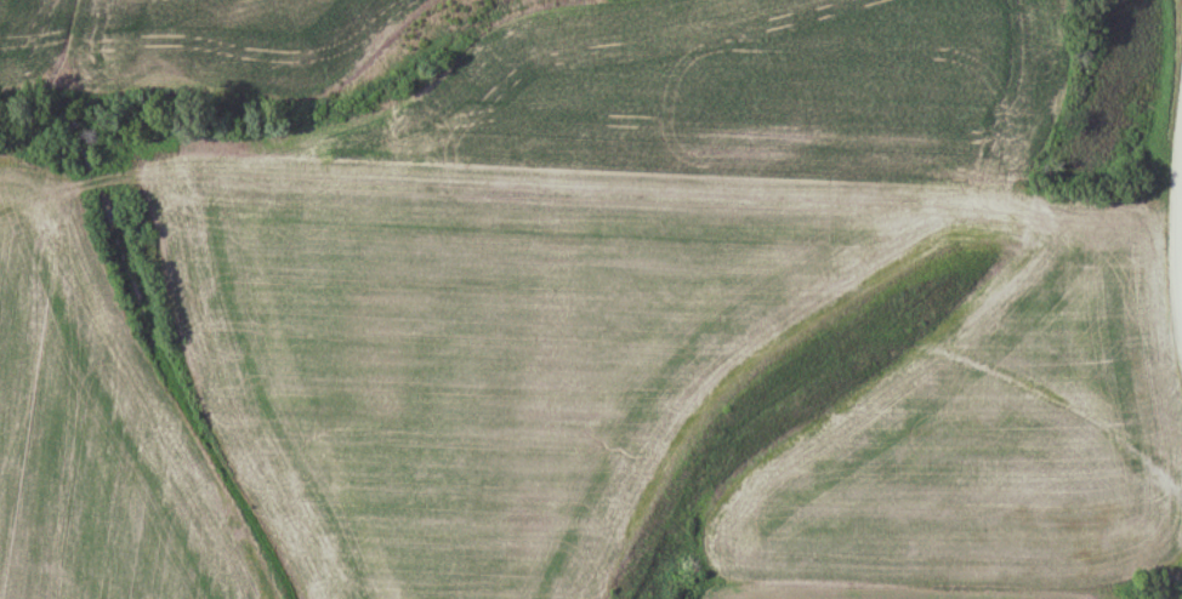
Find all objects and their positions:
road: (1177, 212)

